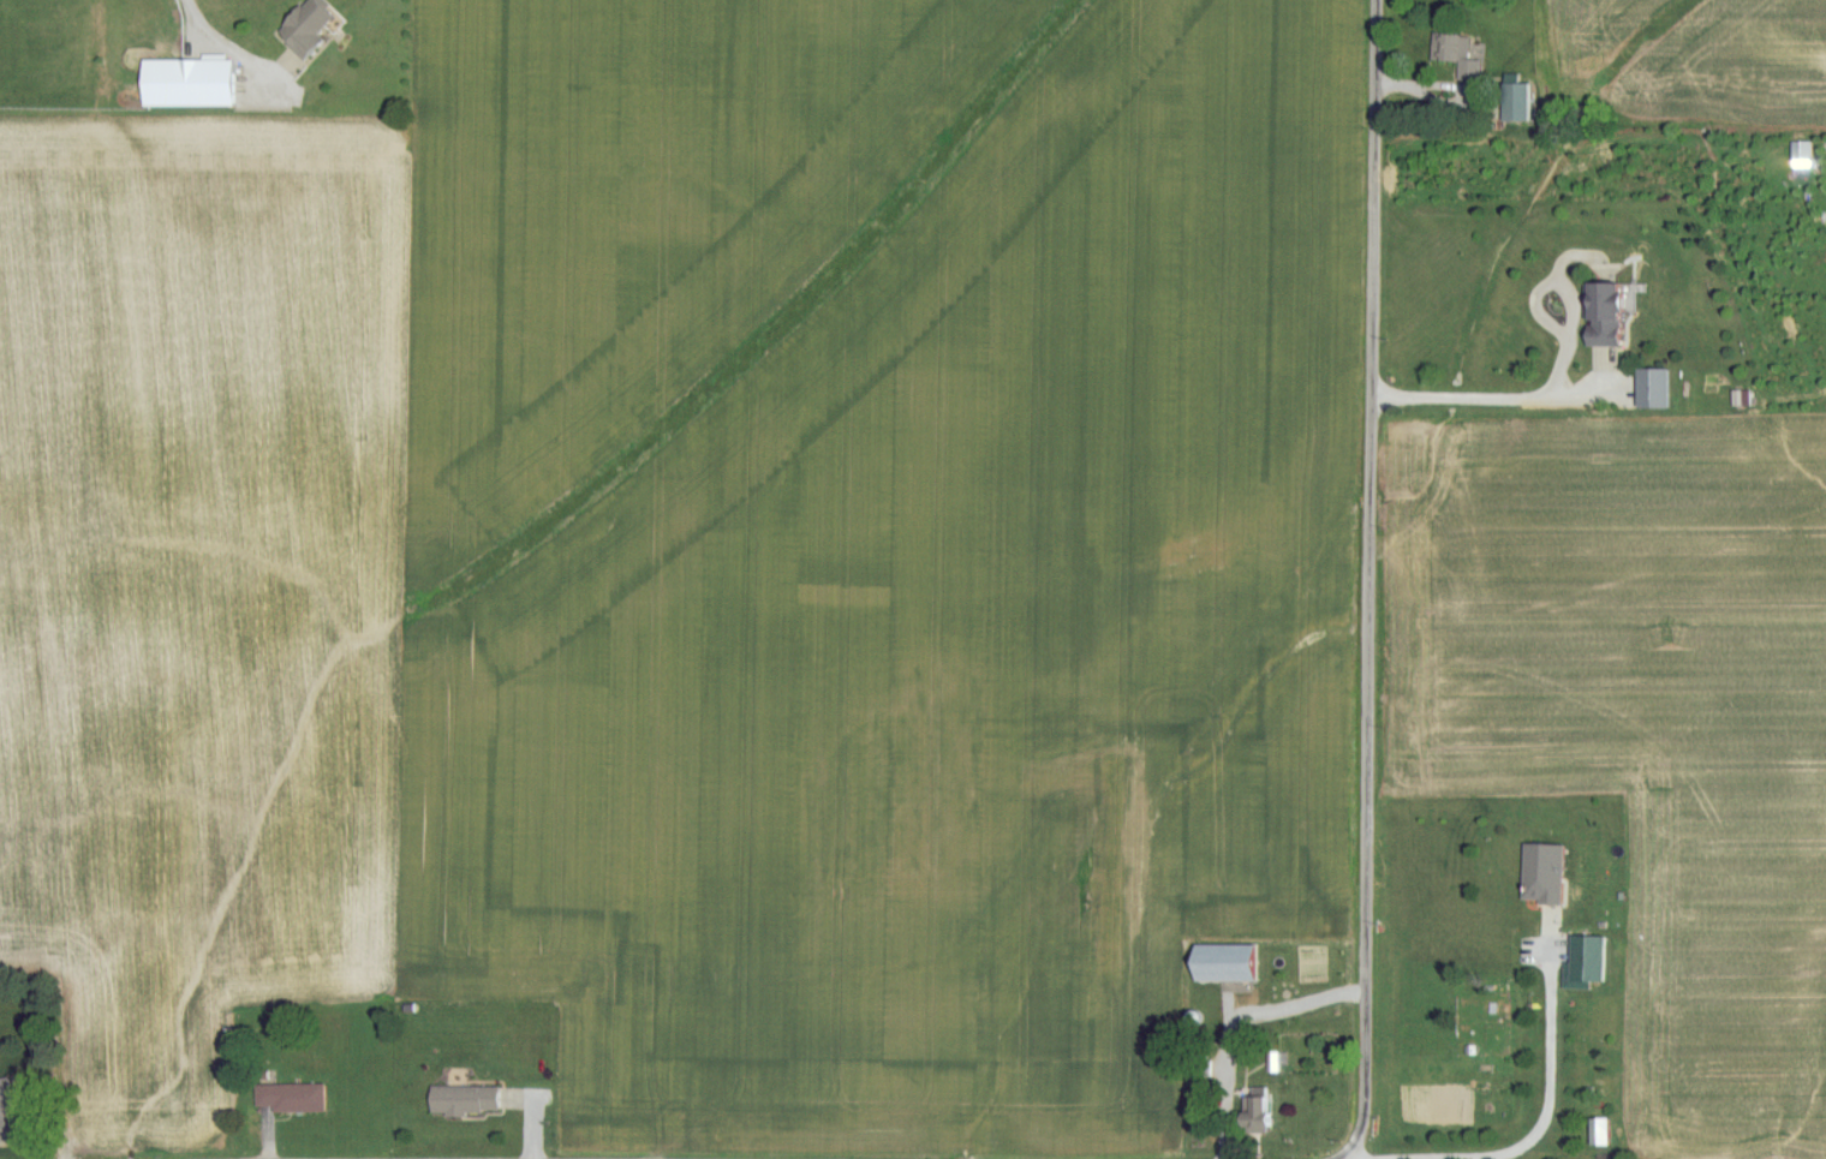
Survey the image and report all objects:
road: (196, 19)
building: (310, 29)
building: (1451, 49)
building: (185, 85)
building: (1515, 103)
building: (1609, 312)
road: (1492, 399)
road: (1372, 583)
building: (1542, 874)
building: (1586, 960)
building: (1222, 964)
road: (1233, 1021)
road: (1552, 1041)
building: (287, 1099)
building: (463, 1101)
building: (1259, 1109)
building: (1598, 1133)
road: (1481, 1155)
road: (1356, 1157)

